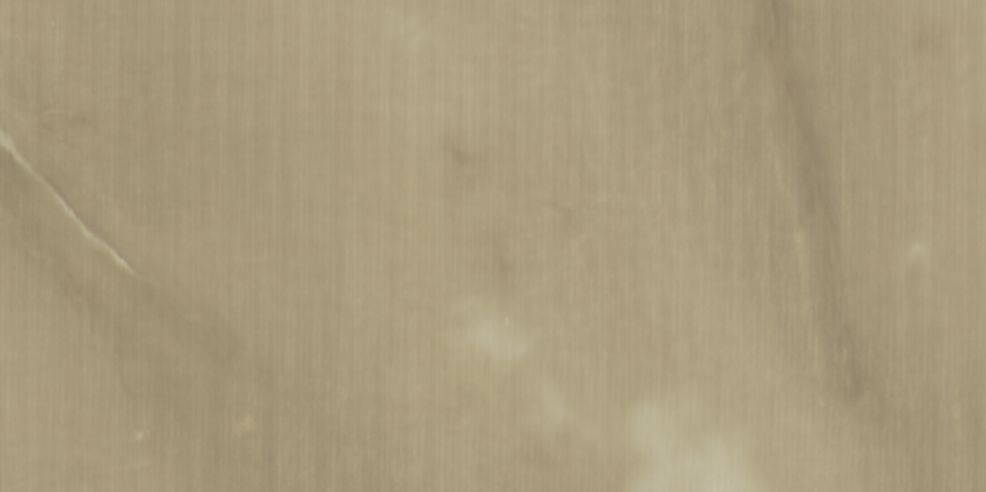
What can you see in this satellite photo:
crop: (493, 246)

